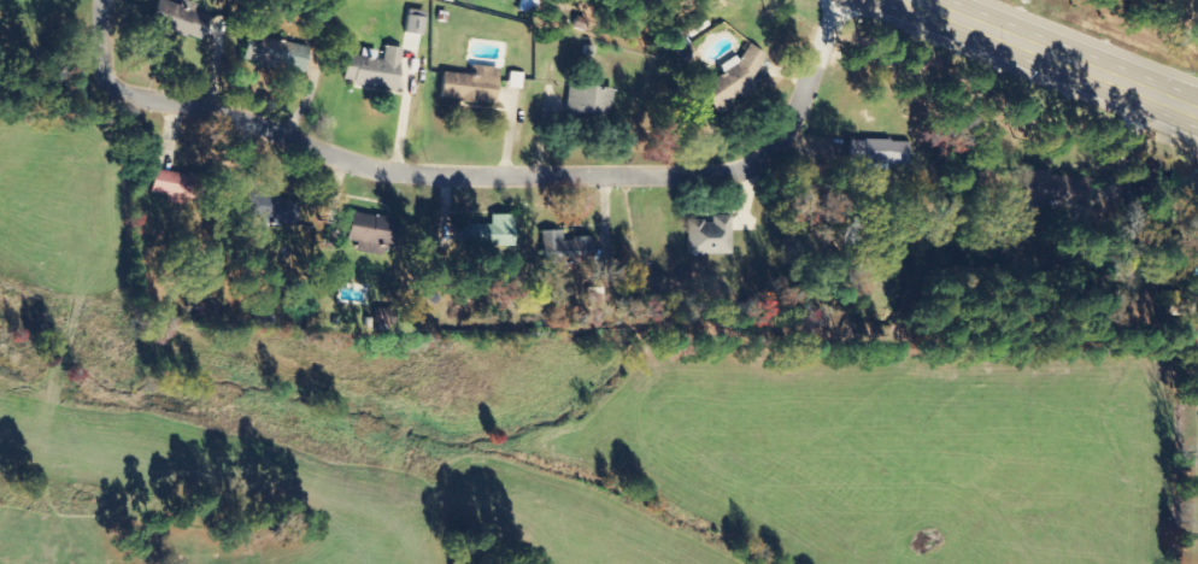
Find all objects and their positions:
building: (1197, 14)
building: (177, 22)
building: (412, 23)
building: (271, 54)
road: (1053, 55)
building: (370, 69)
building: (730, 80)
building: (513, 81)
building: (468, 87)
building: (586, 102)
building: (874, 154)
road: (475, 174)
building: (166, 184)
building: (1051, 192)
building: (270, 208)
building: (480, 233)
building: (368, 234)
building: (707, 237)
building: (562, 249)

